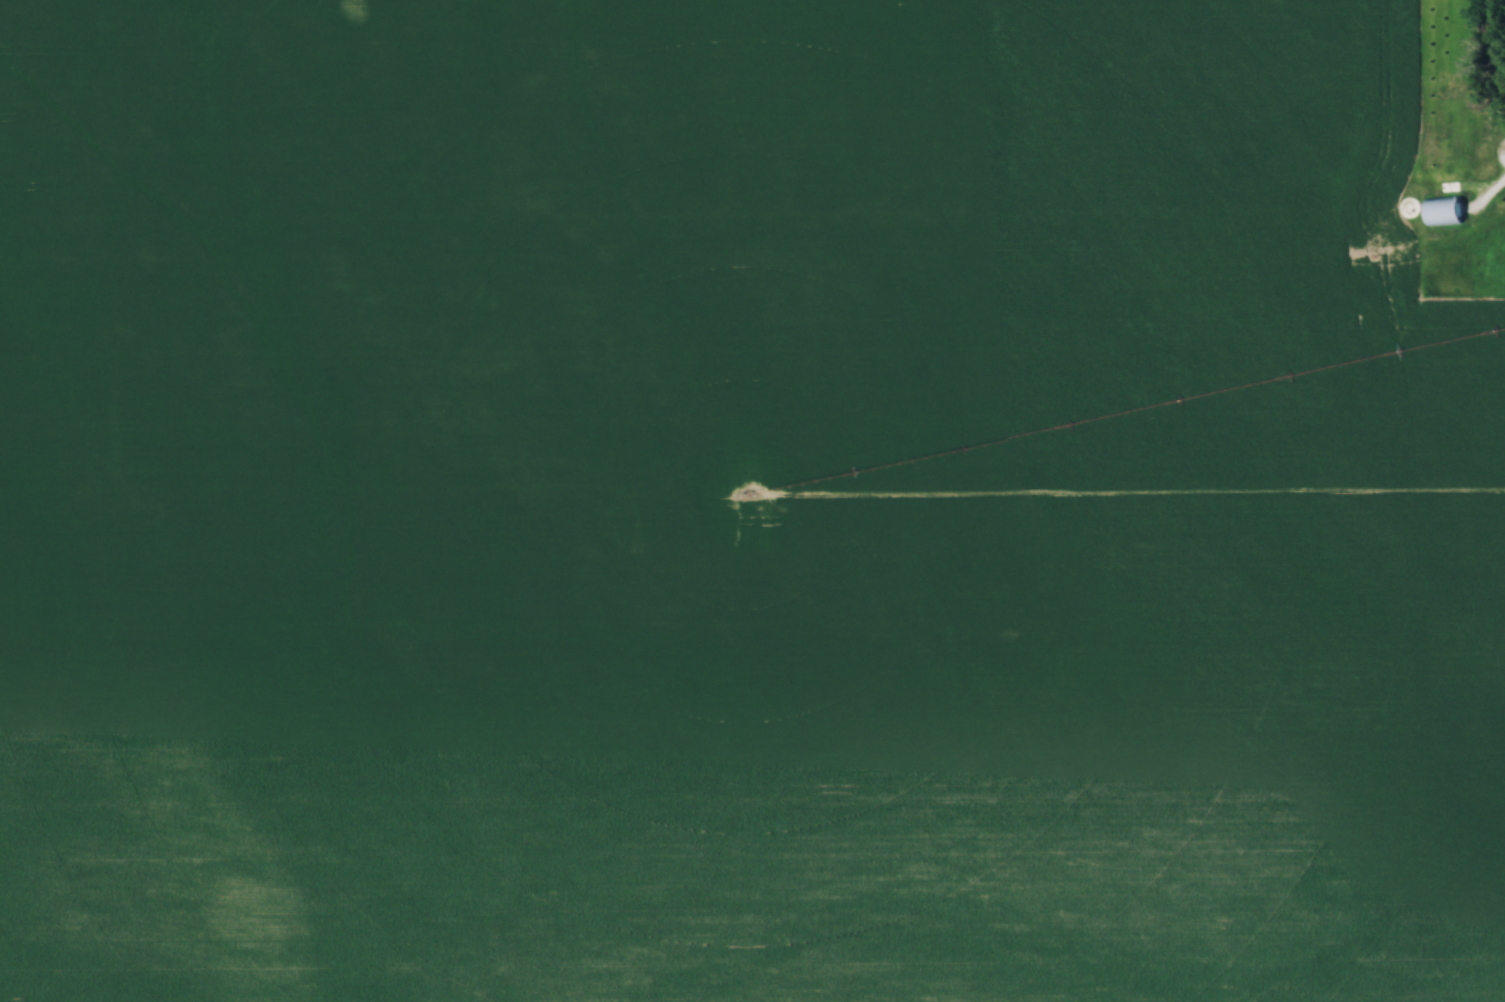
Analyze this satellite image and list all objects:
road: (1488, 203)
building: (1402, 208)
building: (1441, 210)

